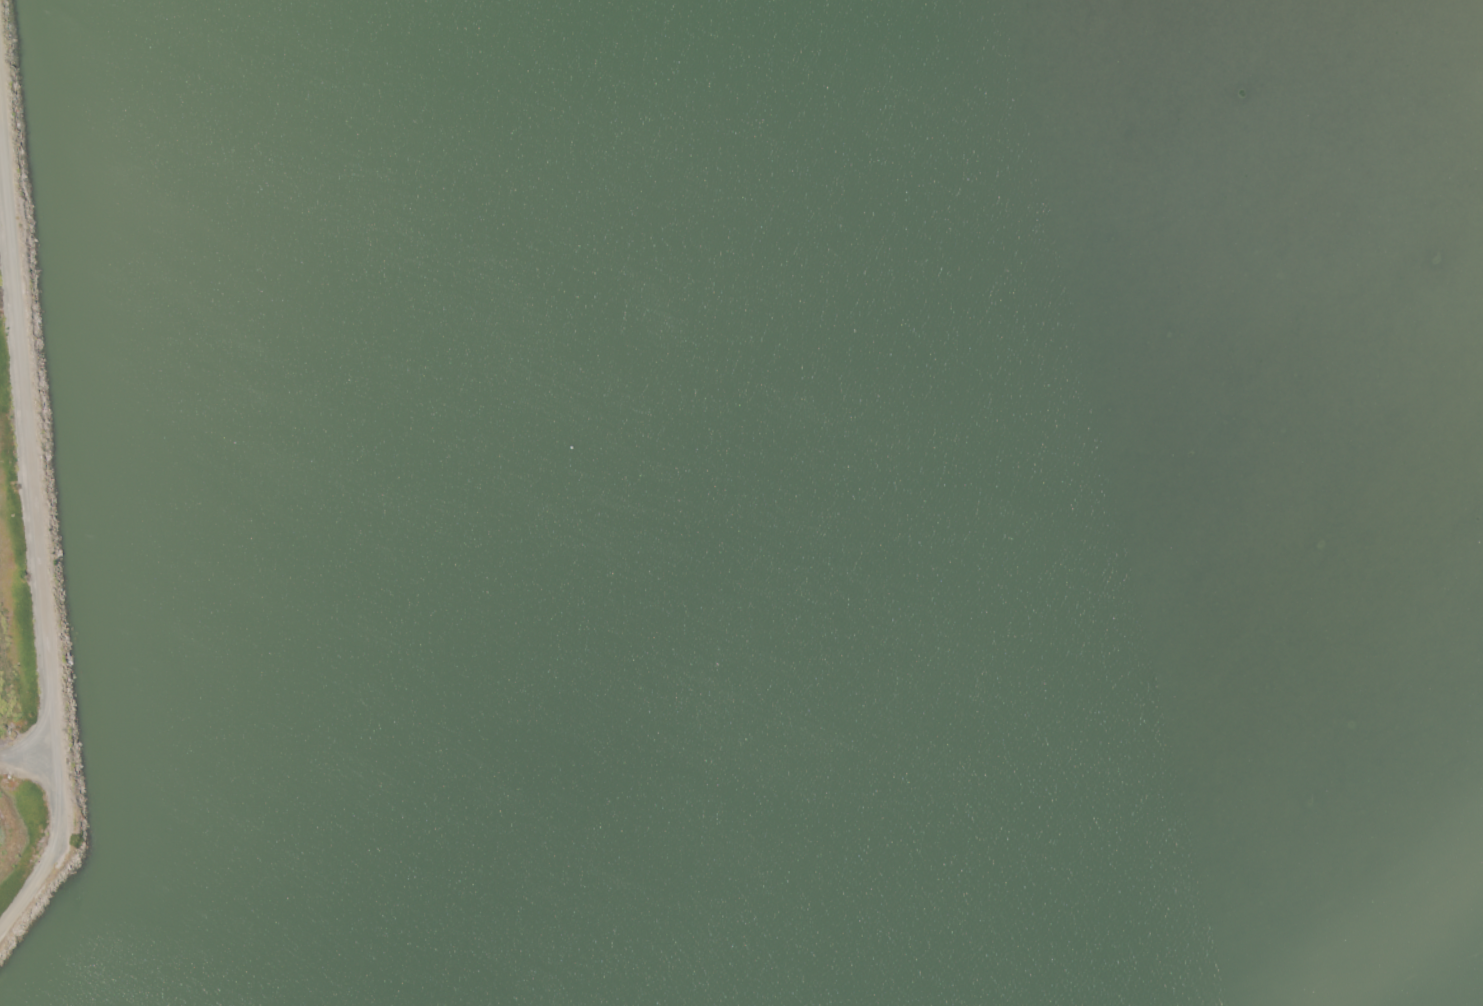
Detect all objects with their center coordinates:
airport: (30, 569)

